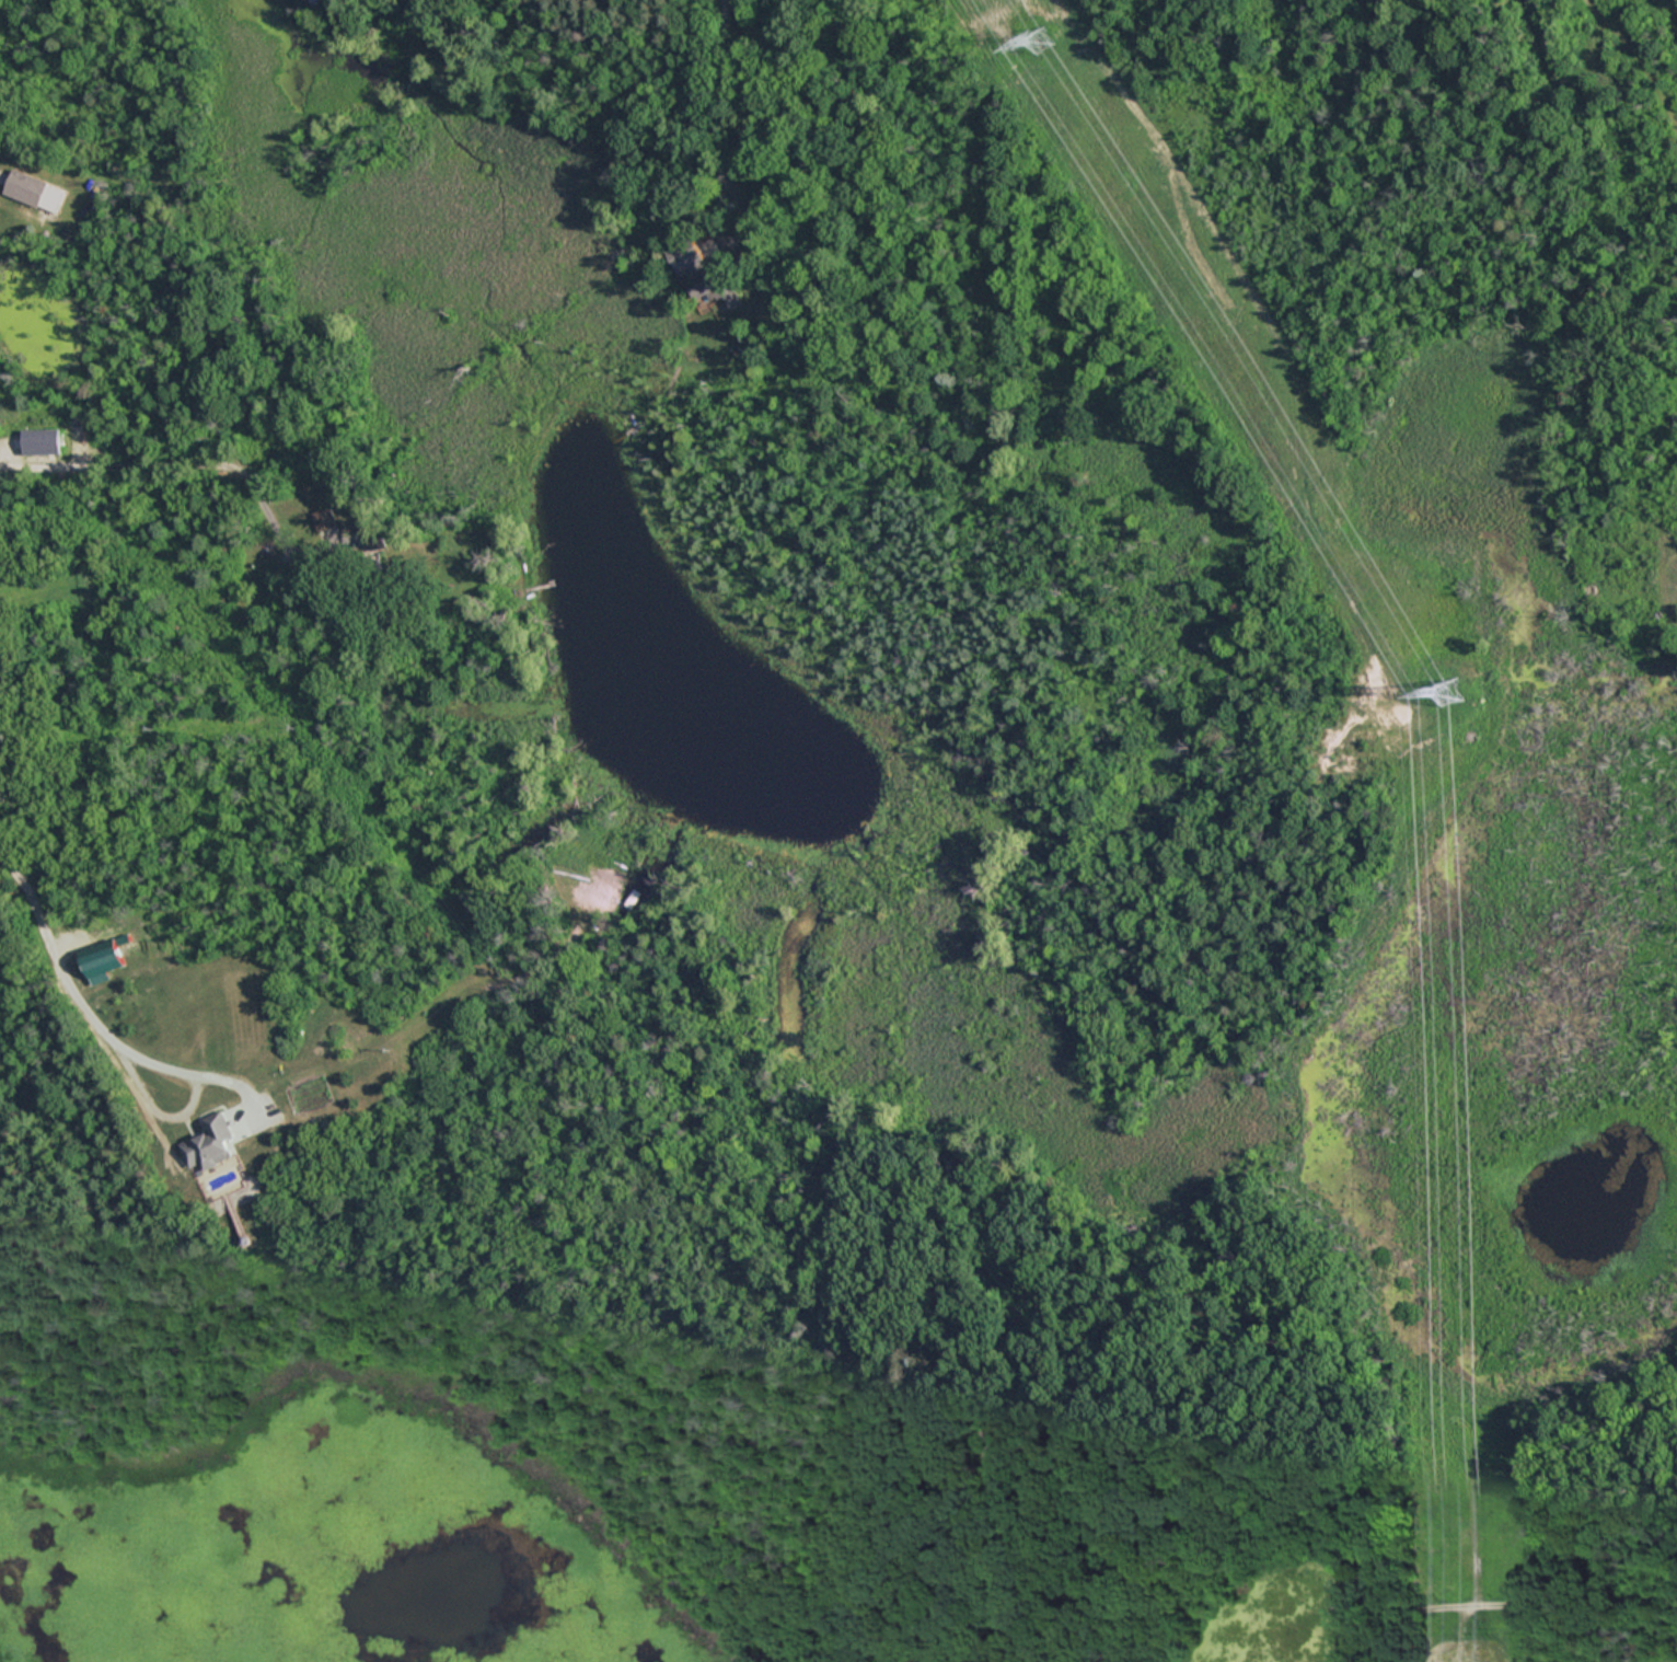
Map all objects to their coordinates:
power tower: (1040, 36)
road: (722, 93)
building: (23, 186)
building: (703, 275)
building: (38, 441)
road: (193, 462)
building: (322, 519)
building: (540, 596)
power tower: (1449, 690)
road: (69, 993)
building: (210, 1143)
park: (1040, 1225)
road: (1341, 1563)

